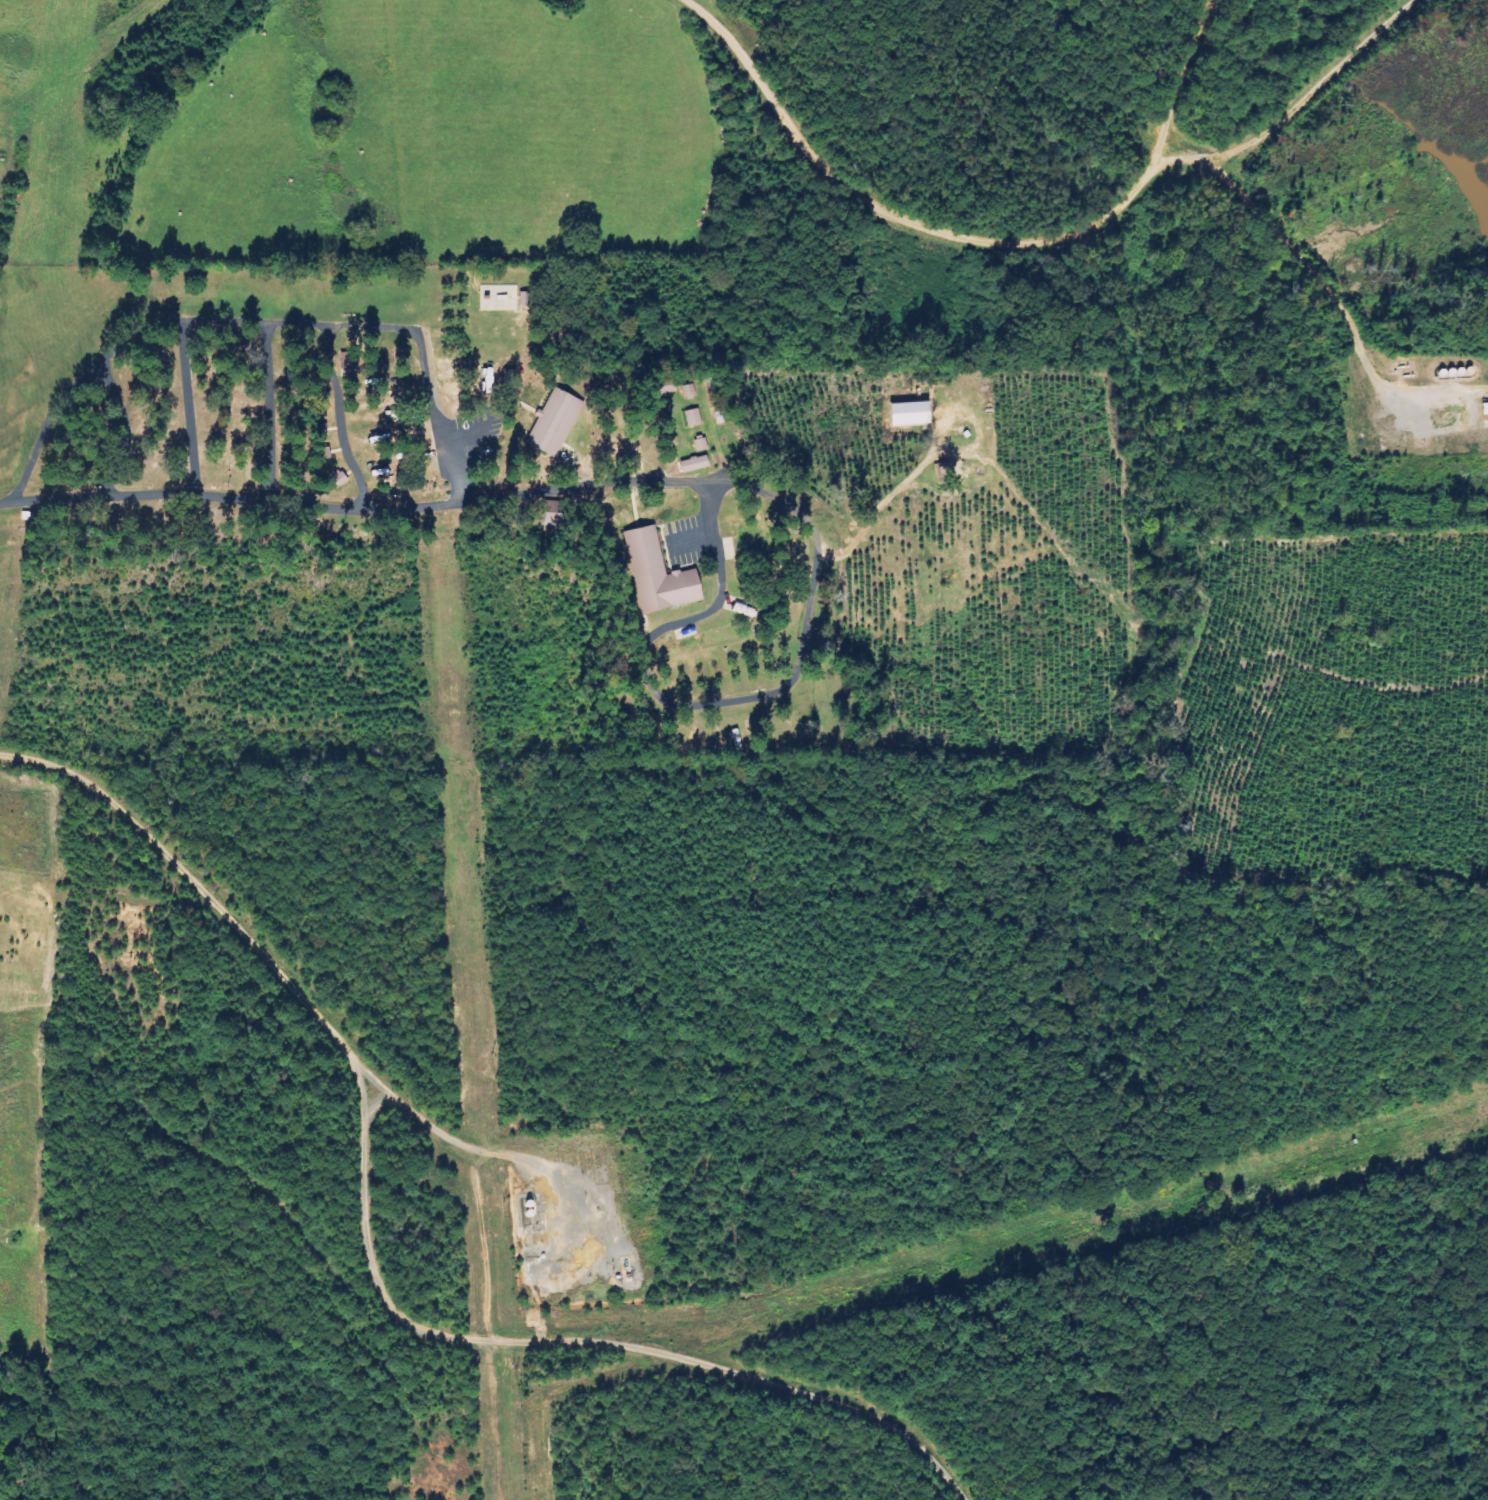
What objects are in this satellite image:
road: (1186, 78)
road: (1063, 242)
building: (1487, 409)
building: (917, 414)
building: (695, 418)
building: (558, 422)
building: (703, 445)
building: (698, 464)
road: (271, 502)
building: (665, 575)

